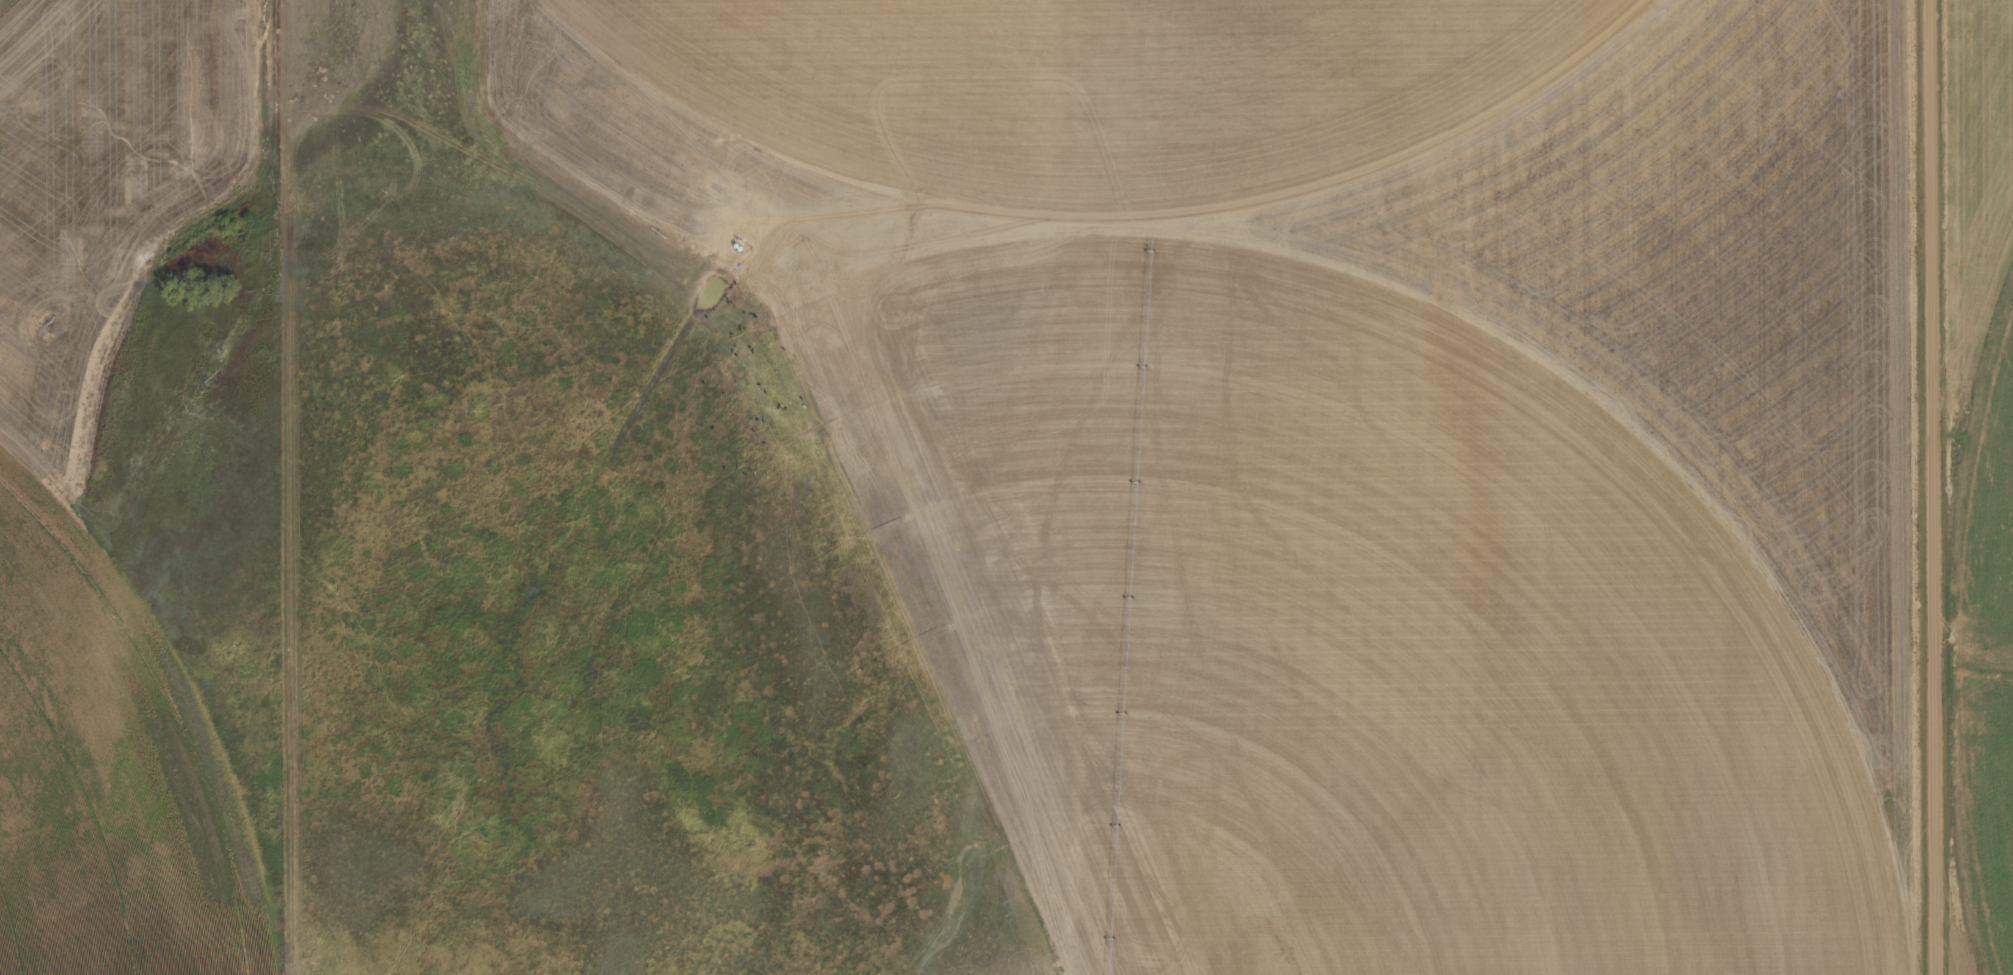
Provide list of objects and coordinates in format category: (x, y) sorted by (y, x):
crop: (1086, 67)
road: (1931, 487)

